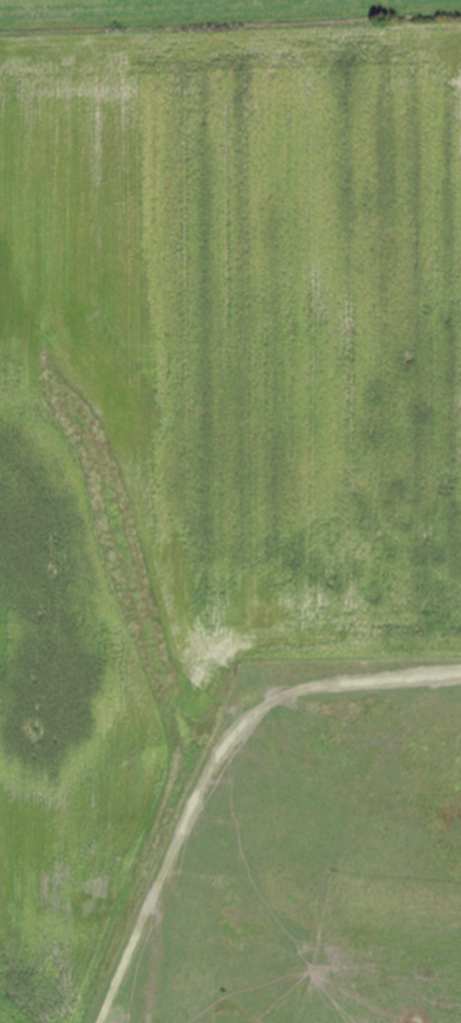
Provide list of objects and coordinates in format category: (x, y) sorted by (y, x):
road: (214, 766)

